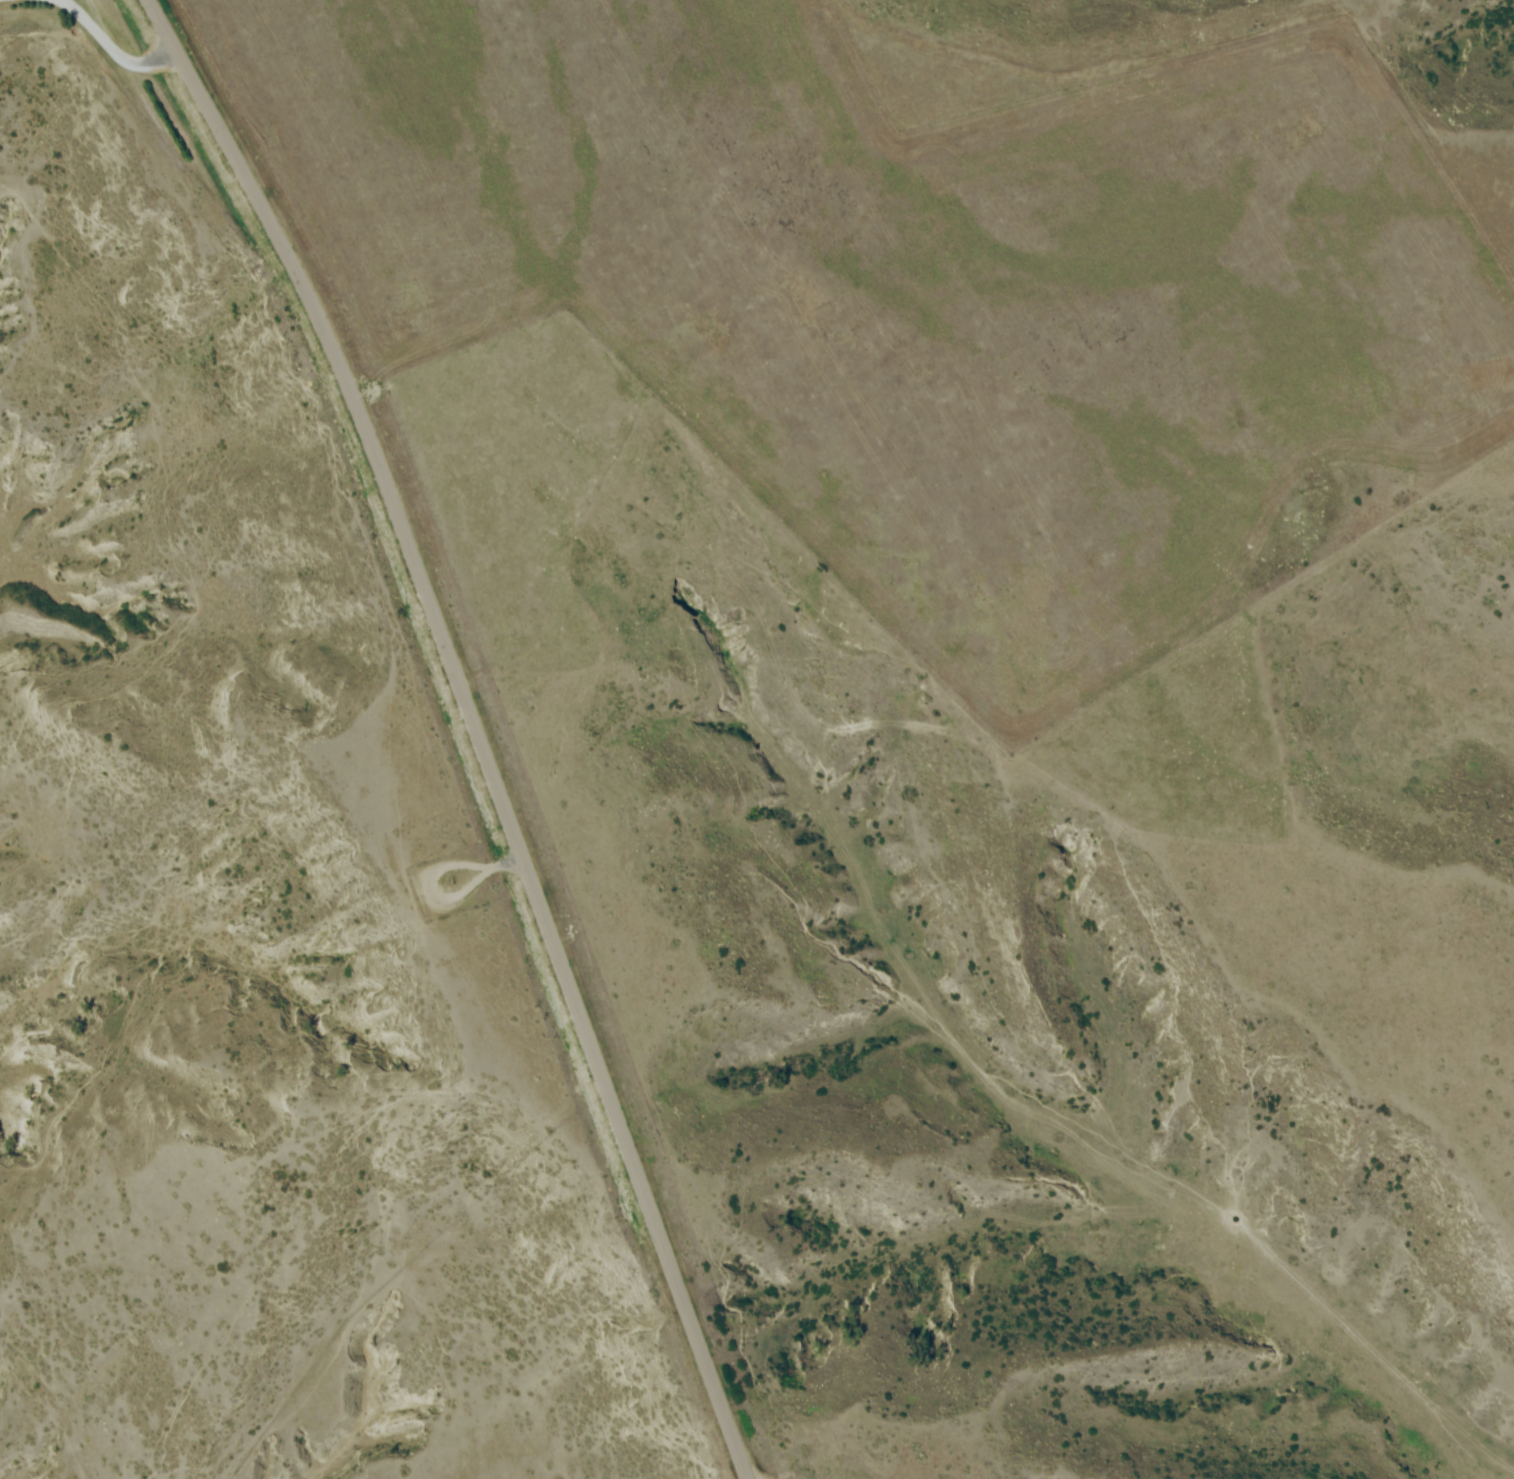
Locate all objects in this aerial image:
road: (117, 52)
road: (477, 728)

